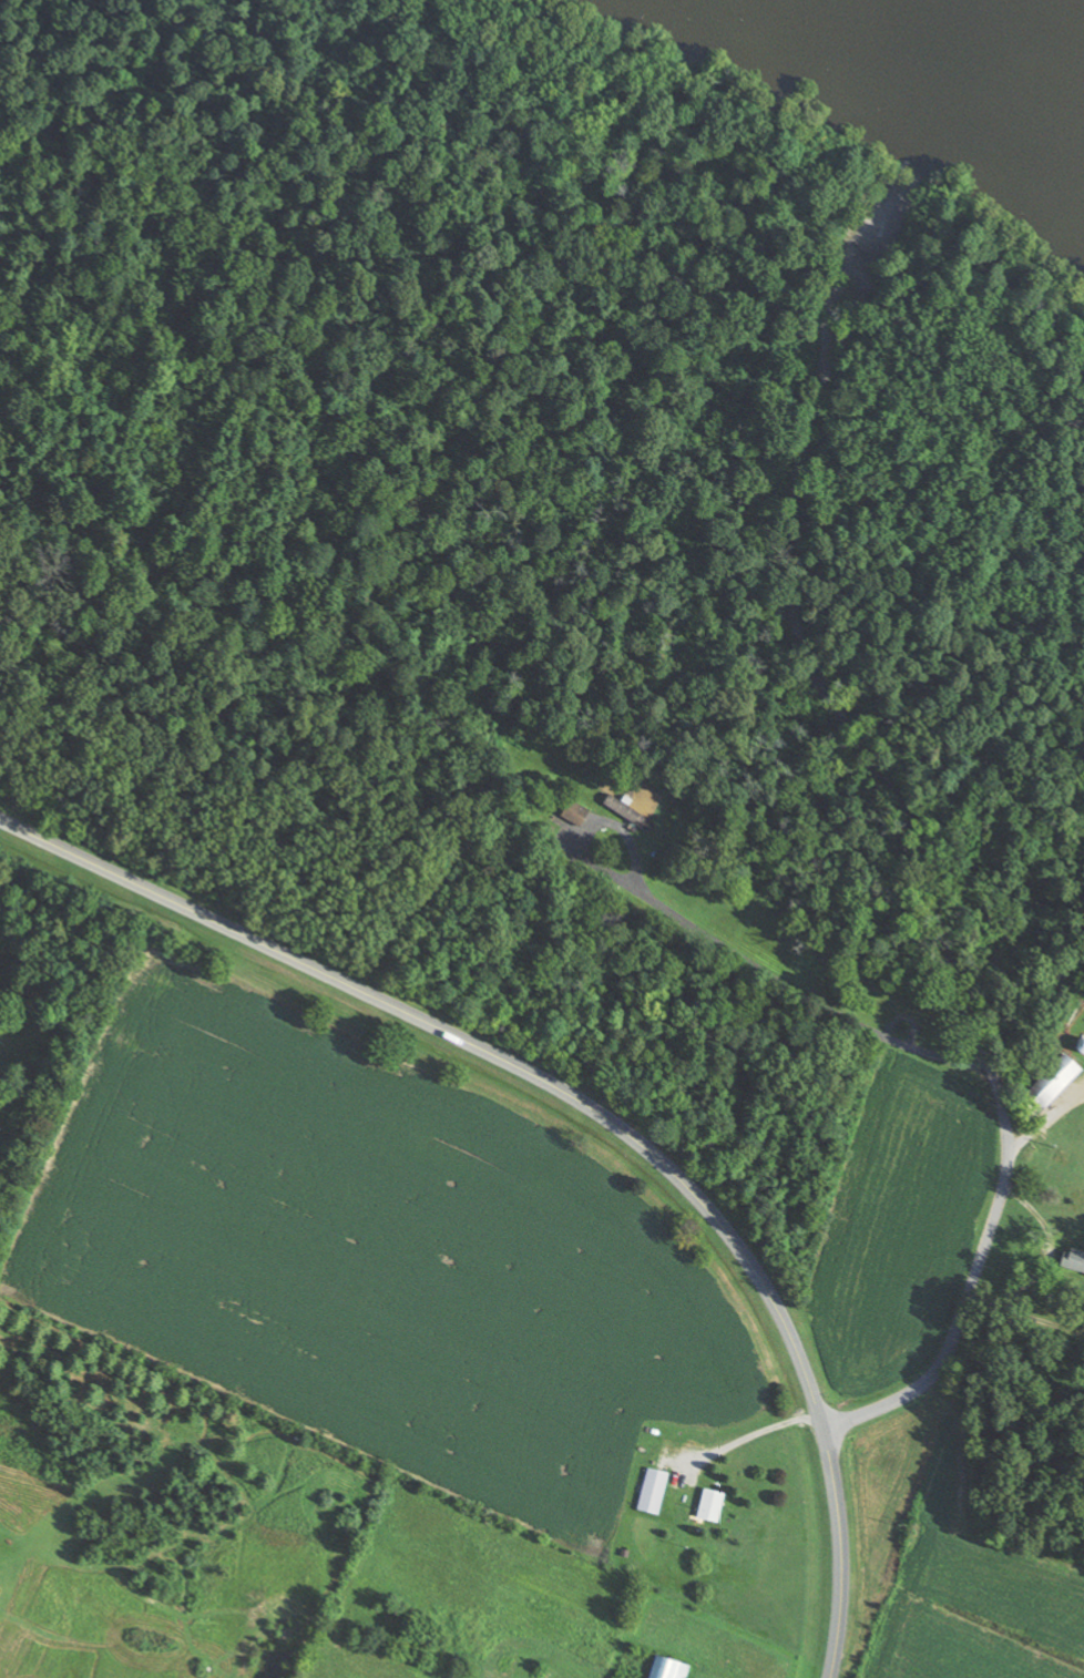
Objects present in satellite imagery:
road: (859, 242)
road: (807, 911)
road: (938, 912)
road: (481, 1045)
road: (842, 1552)

